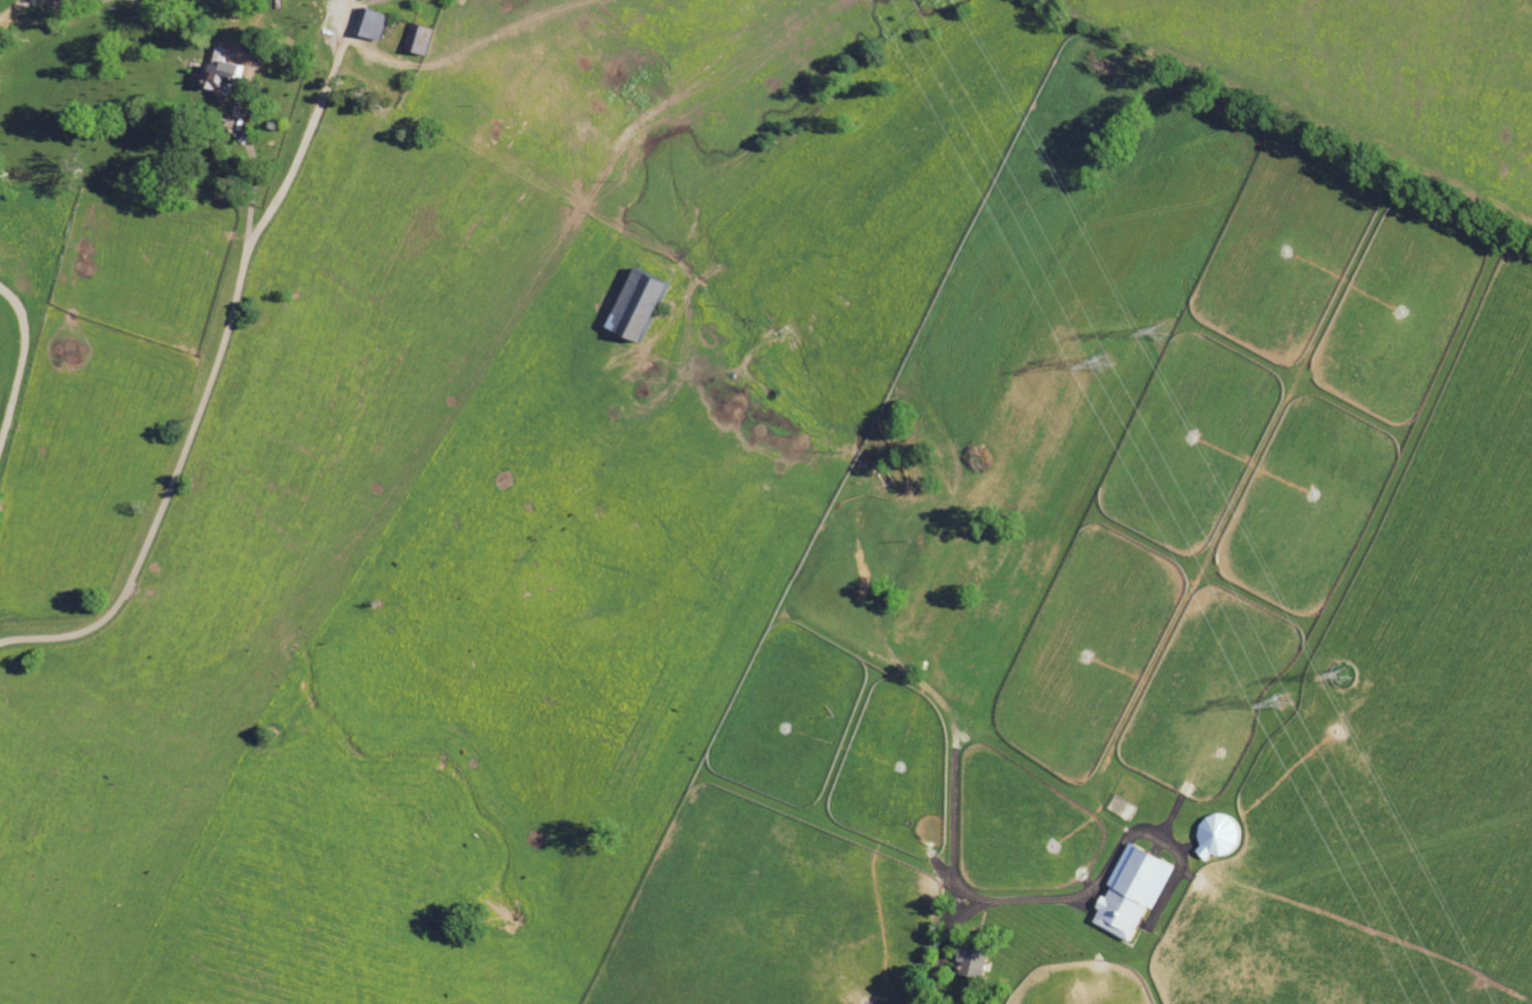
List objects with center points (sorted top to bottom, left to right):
building: (379, 22)
building: (426, 37)
building: (264, 48)
building: (228, 55)
building: (234, 78)
road: (312, 130)
building: (648, 304)
power tower: (1163, 331)
power tower: (1114, 362)
road: (181, 463)
power tower: (1347, 676)
power tower: (1291, 703)
building: (1129, 892)
road: (977, 908)
building: (970, 963)

